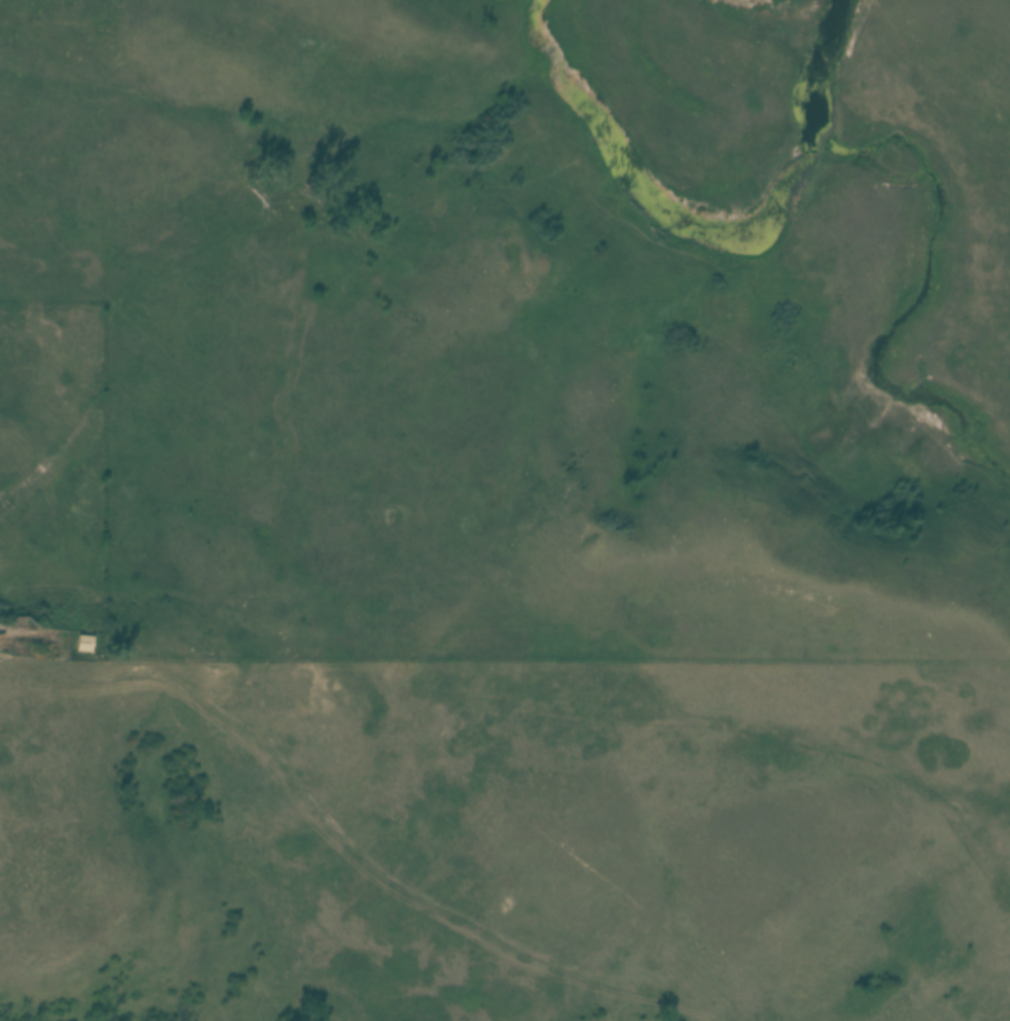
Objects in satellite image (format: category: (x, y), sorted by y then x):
road: (342, 841)

